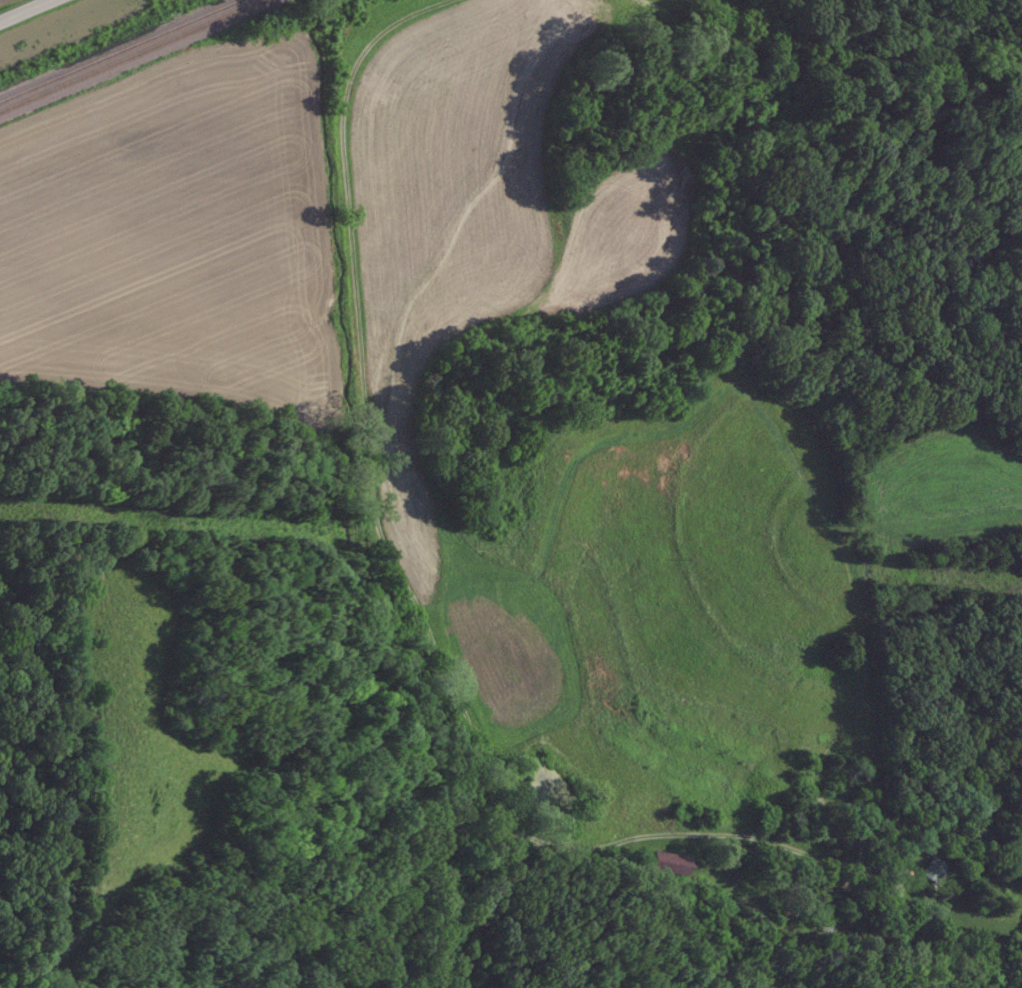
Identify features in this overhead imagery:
road: (27, 11)
railway: (120, 50)
railway: (134, 56)
road: (399, 577)
building: (679, 870)
building: (933, 871)

